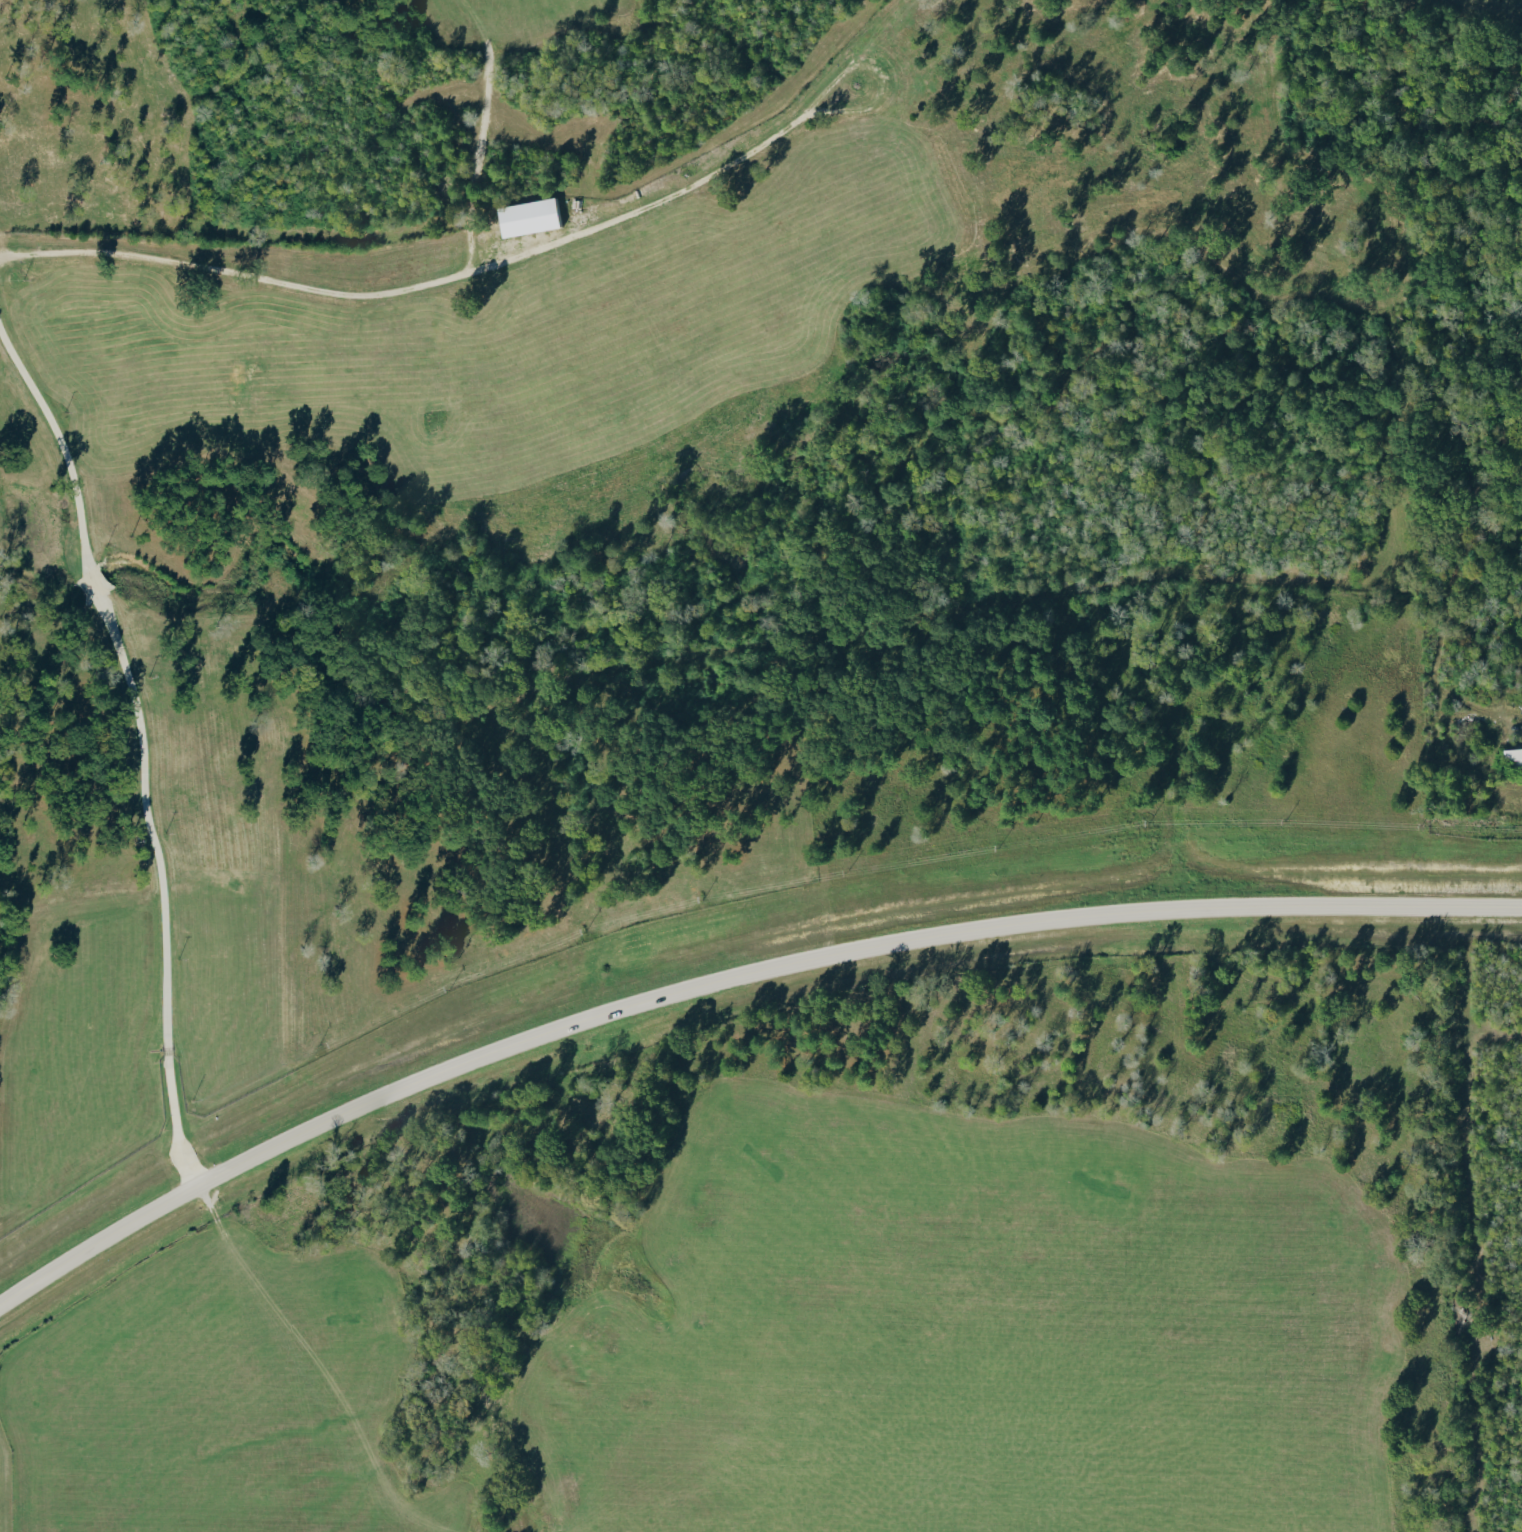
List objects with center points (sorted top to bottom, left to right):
building: (527, 217)
road: (58, 435)
road: (97, 589)
building: (1511, 756)
road: (162, 893)
road: (726, 978)

